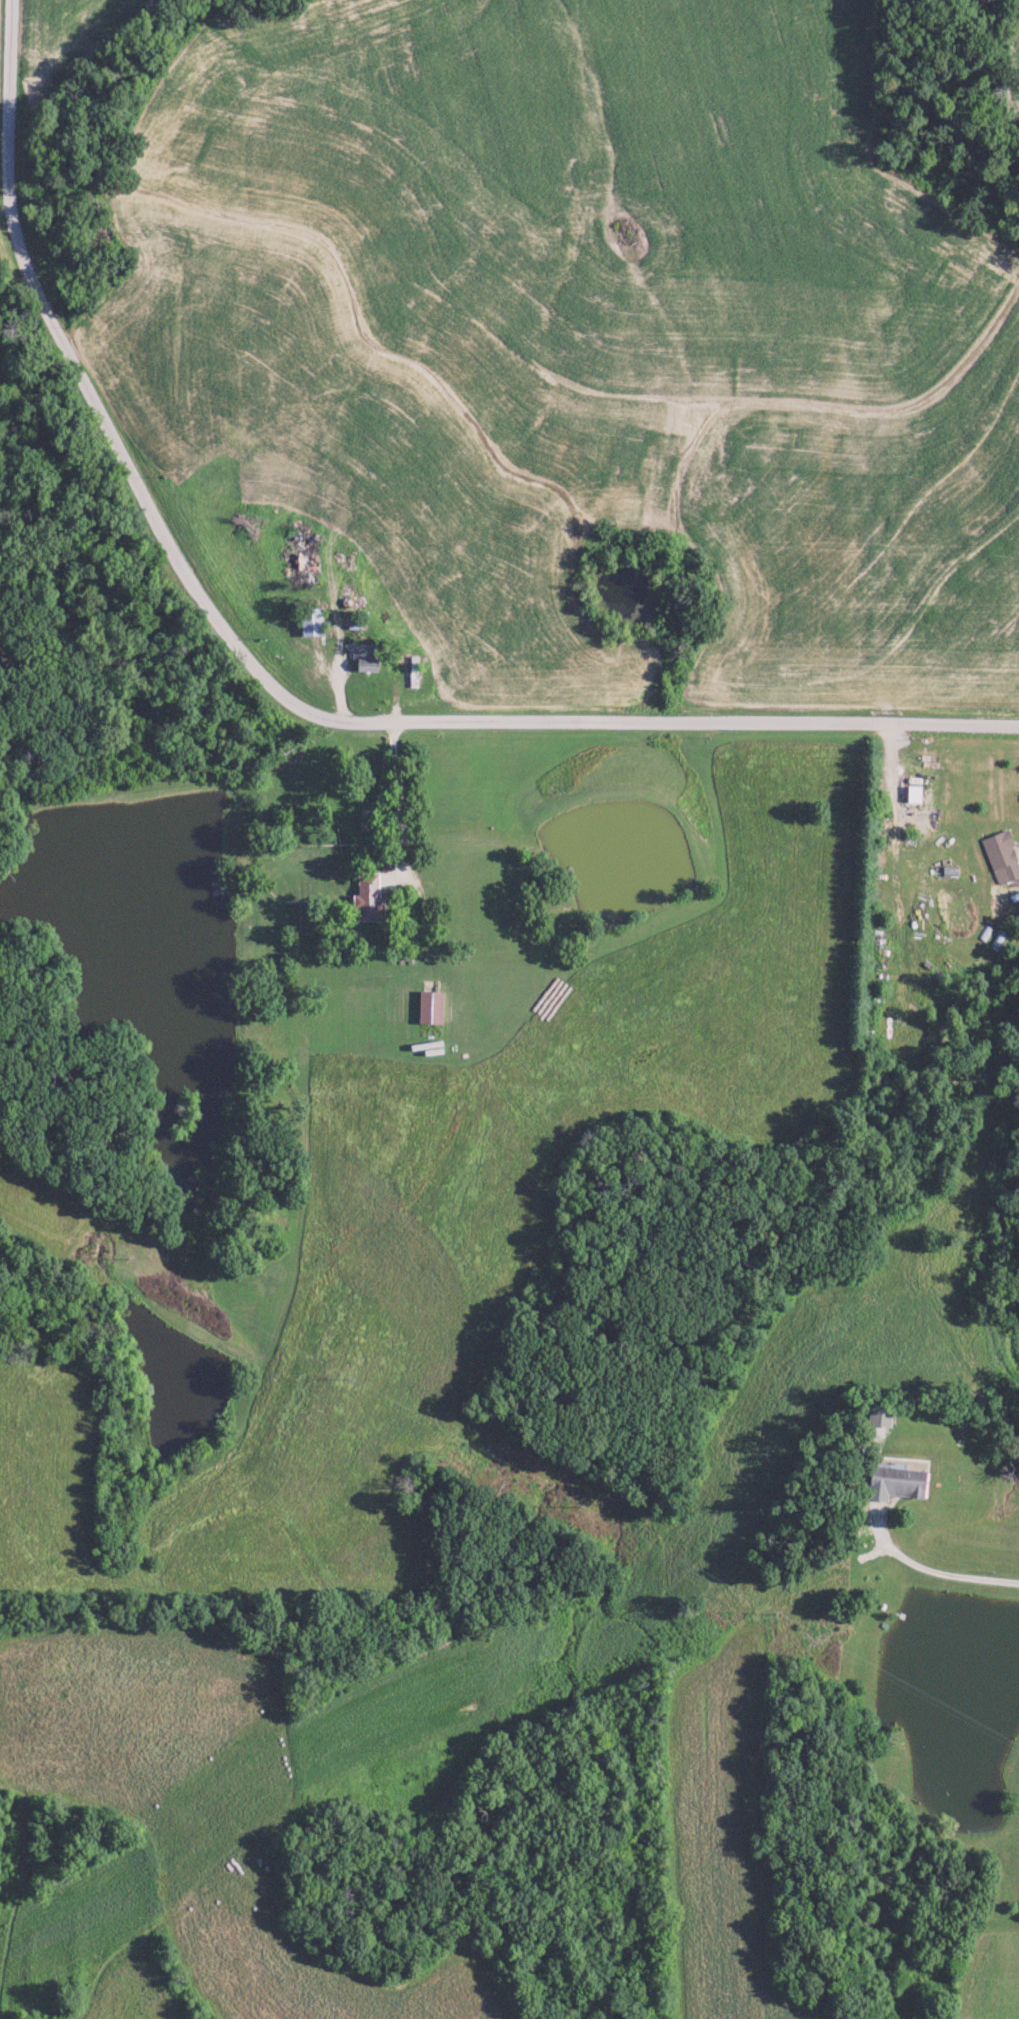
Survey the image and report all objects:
building: (307, 621)
road: (270, 687)
building: (910, 793)
building: (999, 856)
building: (365, 898)
building: (426, 1006)
building: (878, 1413)
building: (892, 1481)
road: (922, 1568)

